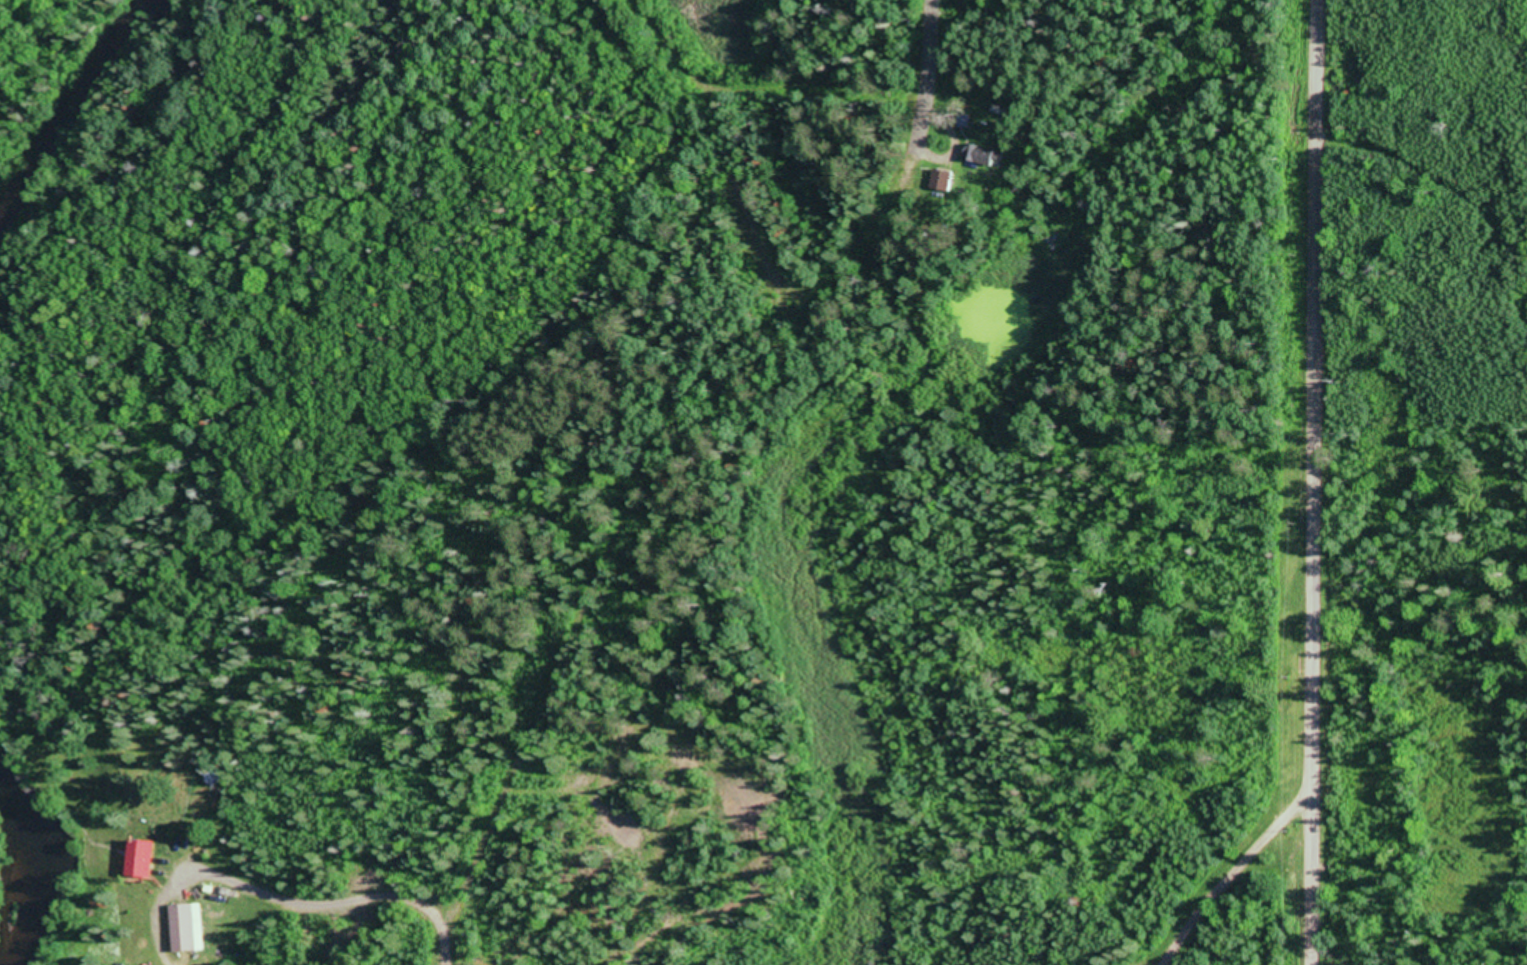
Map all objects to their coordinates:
road: (938, 20)
river: (76, 105)
building: (964, 119)
building: (940, 178)
road: (663, 480)
road: (1308, 482)
road: (1150, 492)
road: (141, 724)
building: (147, 854)
river: (33, 862)
road: (1224, 872)
building: (186, 924)
road: (447, 956)

